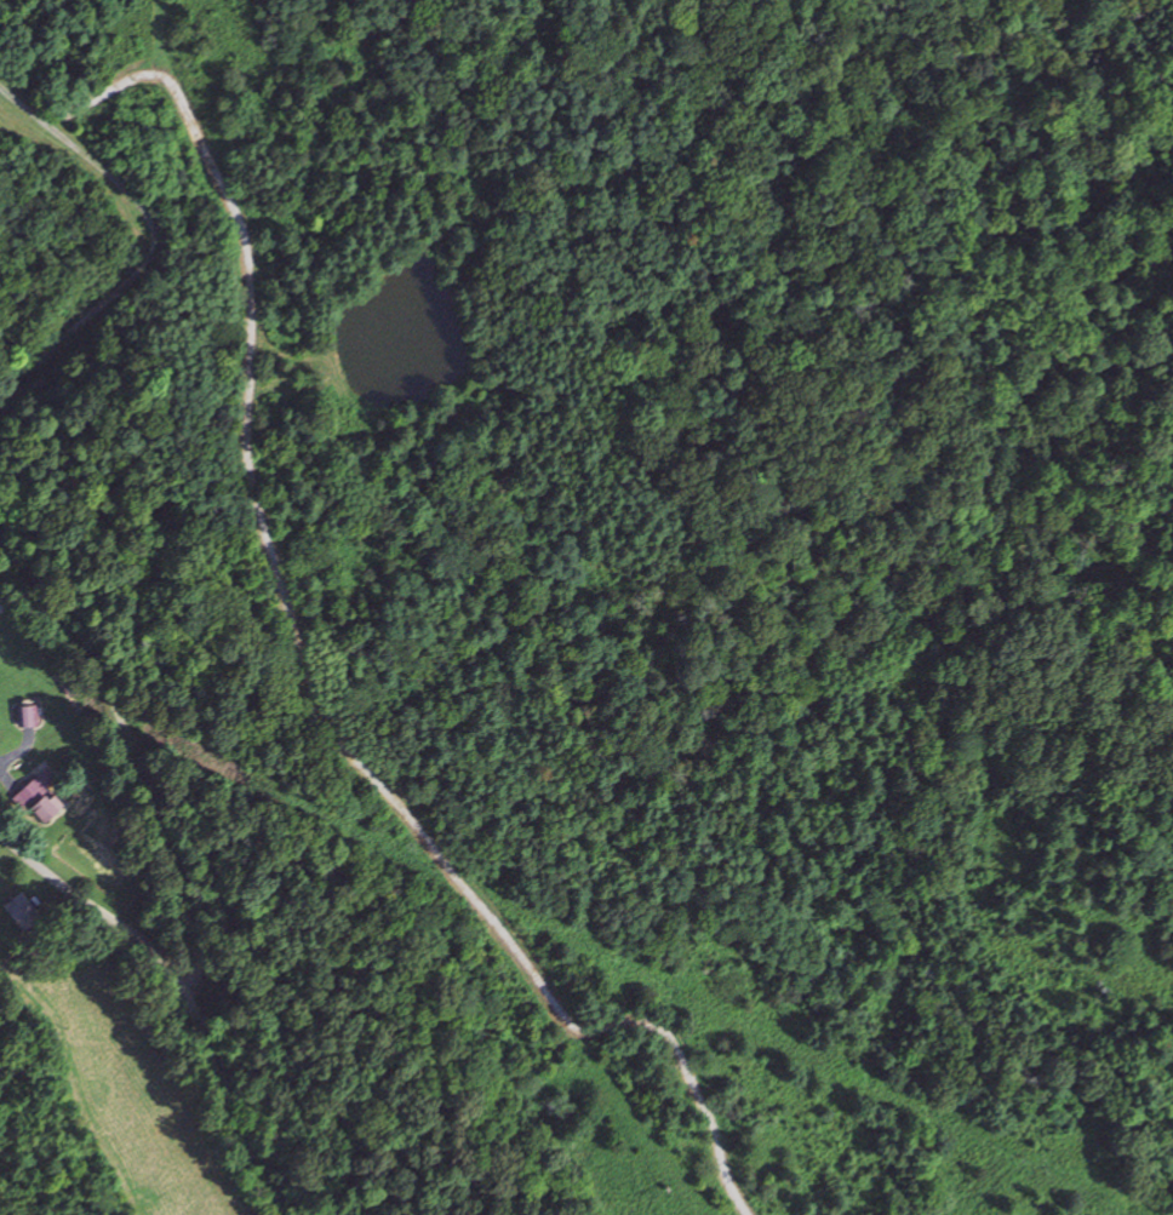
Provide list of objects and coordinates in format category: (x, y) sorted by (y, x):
road: (187, 990)

